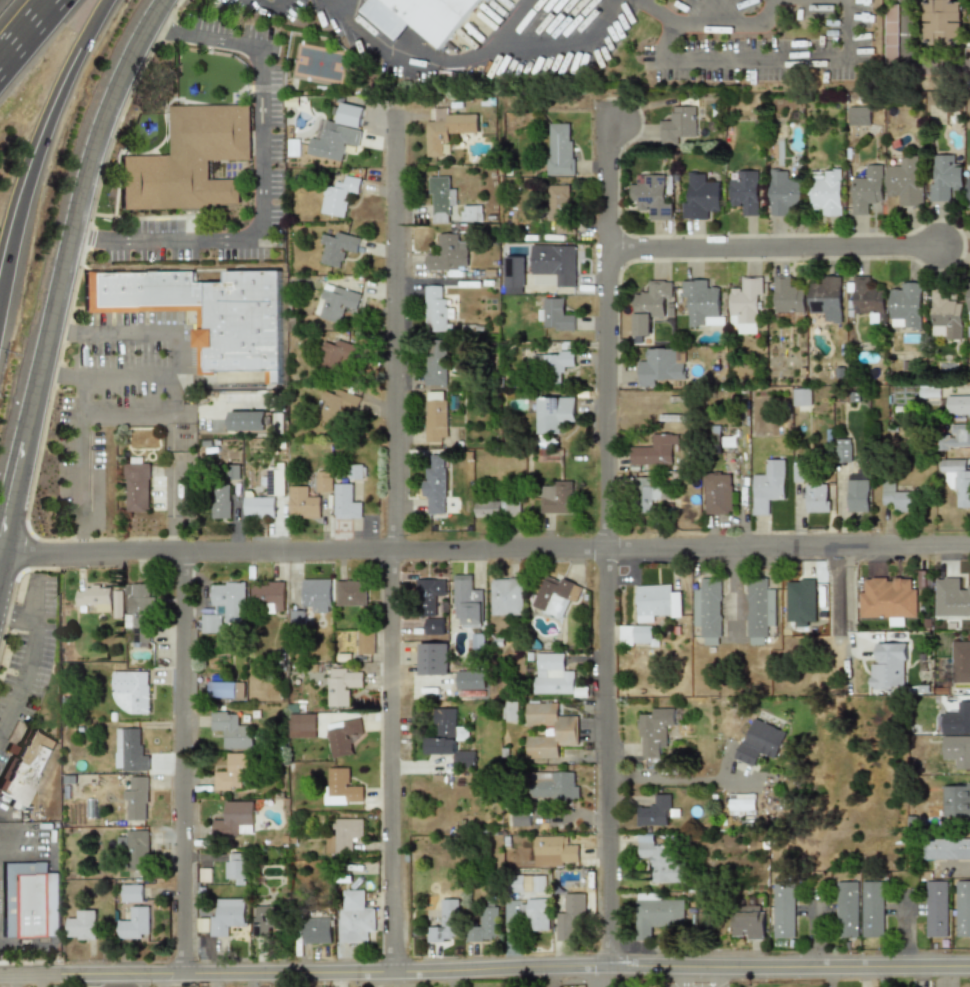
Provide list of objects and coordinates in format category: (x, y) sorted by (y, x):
building: (484, 1)
road: (339, 4)
road: (269, 11)
road: (656, 11)
road: (703, 11)
building: (422, 15)
road: (84, 20)
road: (508, 21)
road: (728, 24)
building: (942, 24)
road: (24, 29)
building: (890, 33)
road: (766, 59)
road: (469, 61)
road: (909, 64)
building: (860, 116)
building: (678, 125)
building: (446, 131)
building: (338, 133)
building: (560, 149)
building: (190, 159)
road: (30, 175)
building: (944, 177)
road: (263, 179)
building: (906, 181)
building: (867, 189)
building: (826, 190)
building: (745, 193)
building: (783, 193)
building: (968, 193)
building: (338, 195)
building: (651, 195)
building: (701, 198)
building: (440, 199)
building: (560, 207)
building: (471, 213)
road: (772, 247)
building: (336, 248)
building: (446, 254)
building: (553, 263)
building: (513, 271)
road: (65, 281)
building: (787, 296)
building: (867, 298)
building: (825, 299)
building: (968, 301)
building: (336, 303)
building: (701, 303)
building: (649, 305)
building: (746, 305)
building: (905, 306)
building: (435, 310)
building: (209, 313)
building: (555, 316)
building: (945, 317)
road: (170, 356)
building: (334, 357)
building: (435, 363)
building: (557, 363)
building: (662, 365)
building: (927, 392)
building: (801, 400)
building: (957, 405)
building: (331, 408)
building: (555, 414)
road: (126, 415)
building: (436, 417)
building: (248, 421)
building: (957, 436)
building: (655, 450)
building: (843, 451)
building: (356, 472)
building: (797, 473)
building: (323, 481)
building: (957, 481)
building: (274, 482)
road: (79, 485)
building: (768, 485)
building: (136, 486)
building: (434, 486)
building: (649, 493)
building: (717, 493)
building: (857, 496)
building: (556, 497)
building: (816, 497)
building: (896, 498)
building: (221, 502)
building: (346, 502)
building: (303, 503)
road: (176, 507)
building: (259, 507)
building: (497, 508)
road: (605, 544)
road: (393, 546)
road: (487, 550)
building: (350, 592)
building: (430, 592)
building: (317, 594)
building: (141, 595)
building: (268, 595)
building: (558, 595)
building: (508, 596)
building: (94, 598)
building: (887, 598)
building: (951, 598)
building: (468, 600)
road: (837, 600)
building: (656, 602)
building: (117, 604)
building: (224, 606)
building: (708, 610)
building: (759, 610)
road: (17, 616)
building: (296, 618)
building: (433, 626)
building: (636, 635)
building: (366, 641)
road: (30, 658)
building: (432, 659)
building: (960, 661)
building: (888, 666)
building: (552, 674)
building: (470, 681)
building: (342, 685)
building: (131, 690)
building: (226, 690)
building: (509, 711)
building: (301, 725)
building: (232, 729)
building: (550, 729)
building: (654, 731)
building: (957, 735)
building: (343, 736)
building: (449, 738)
building: (758, 741)
building: (129, 751)
road: (182, 764)
building: (28, 770)
building: (231, 773)
road: (675, 779)
building: (554, 785)
building: (340, 787)
building: (956, 798)
building: (136, 800)
building: (741, 805)
building: (656, 811)
building: (233, 819)
building: (519, 820)
building: (345, 835)
building: (135, 848)
building: (946, 849)
building: (553, 851)
building: (658, 860)
building: (234, 866)
building: (526, 883)
building: (131, 893)
building: (846, 909)
building: (872, 909)
building: (936, 909)
building: (962, 909)
building: (30, 910)
building: (783, 910)
building: (655, 913)
building: (535, 914)
building: (226, 915)
building: (569, 917)
building: (265, 918)
building: (354, 918)
building: (133, 924)
building: (747, 924)
building: (484, 925)
building: (81, 926)
building: (443, 926)
building: (316, 930)
road: (485, 971)
road: (682, 978)
road: (710, 978)
road: (601, 979)
road: (250, 980)

